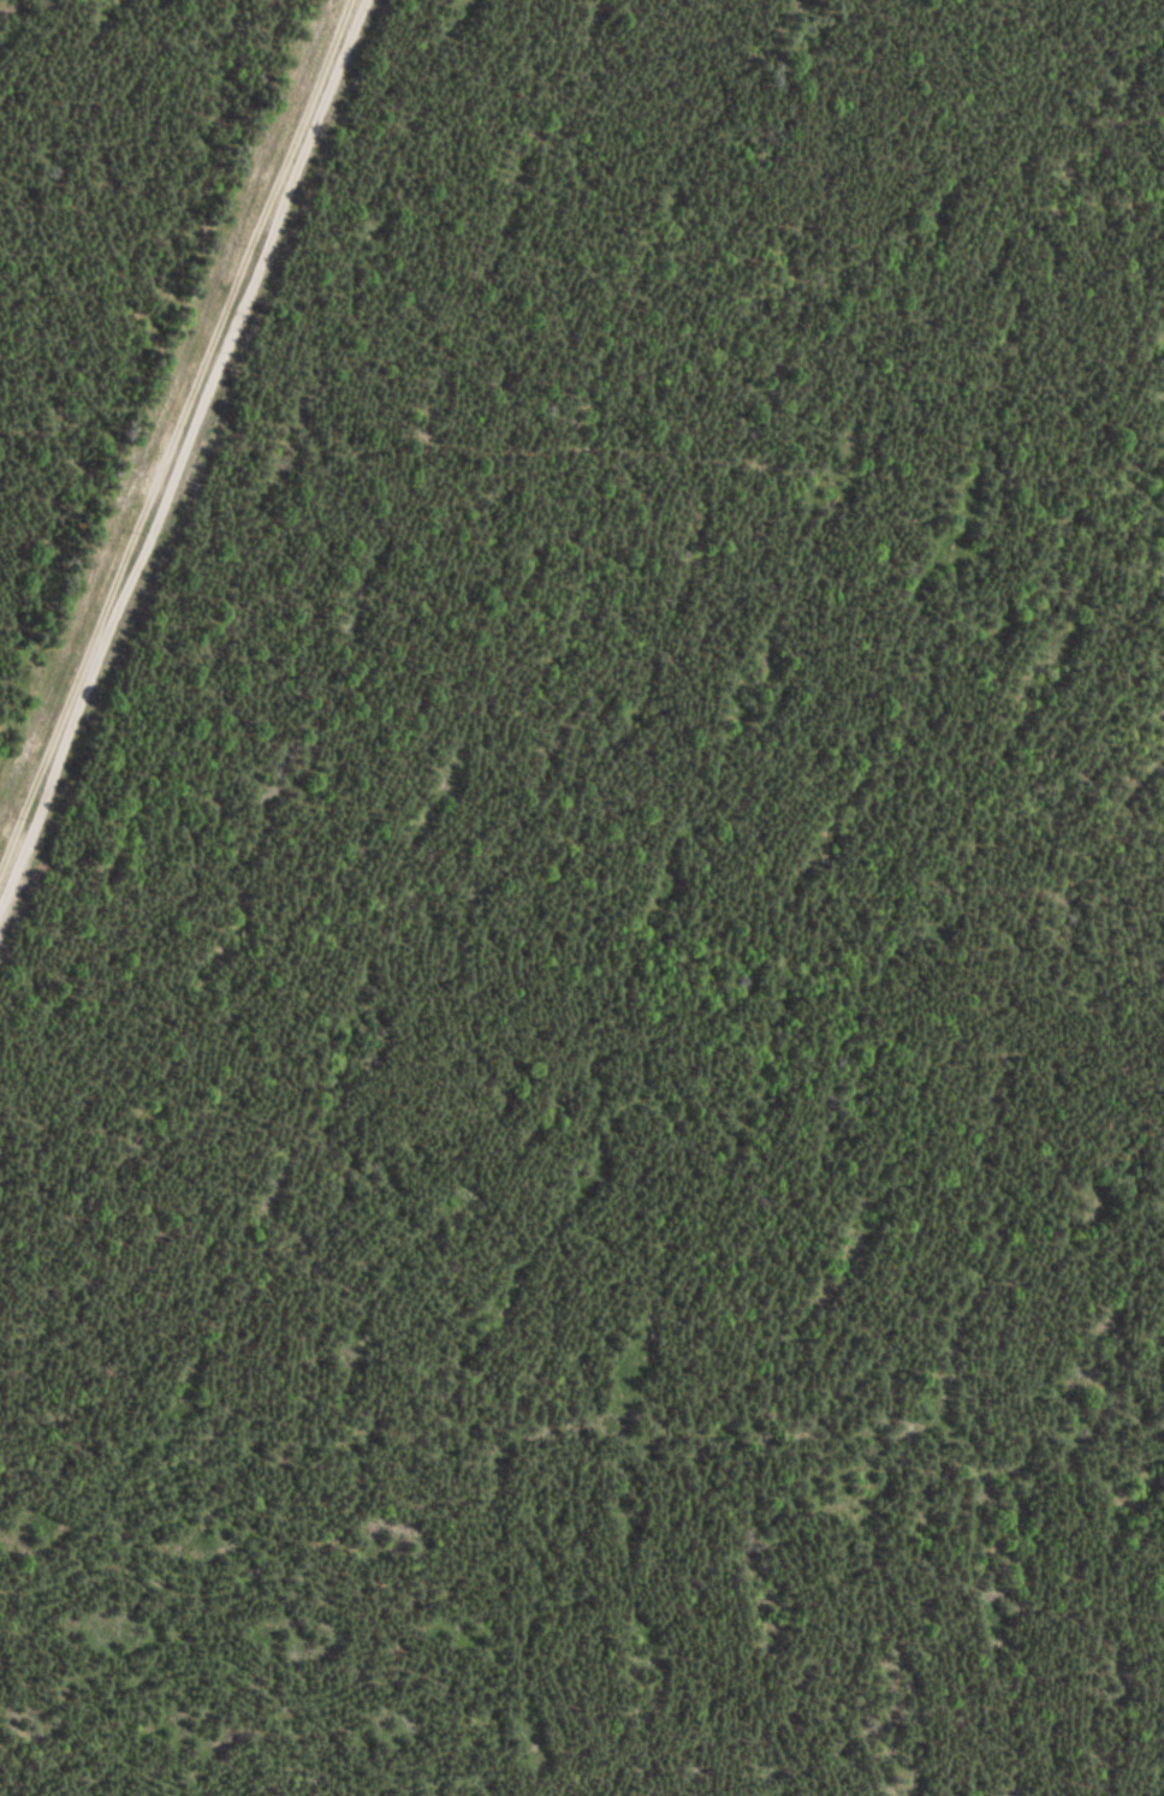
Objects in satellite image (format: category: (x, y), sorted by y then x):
road: (182, 451)

